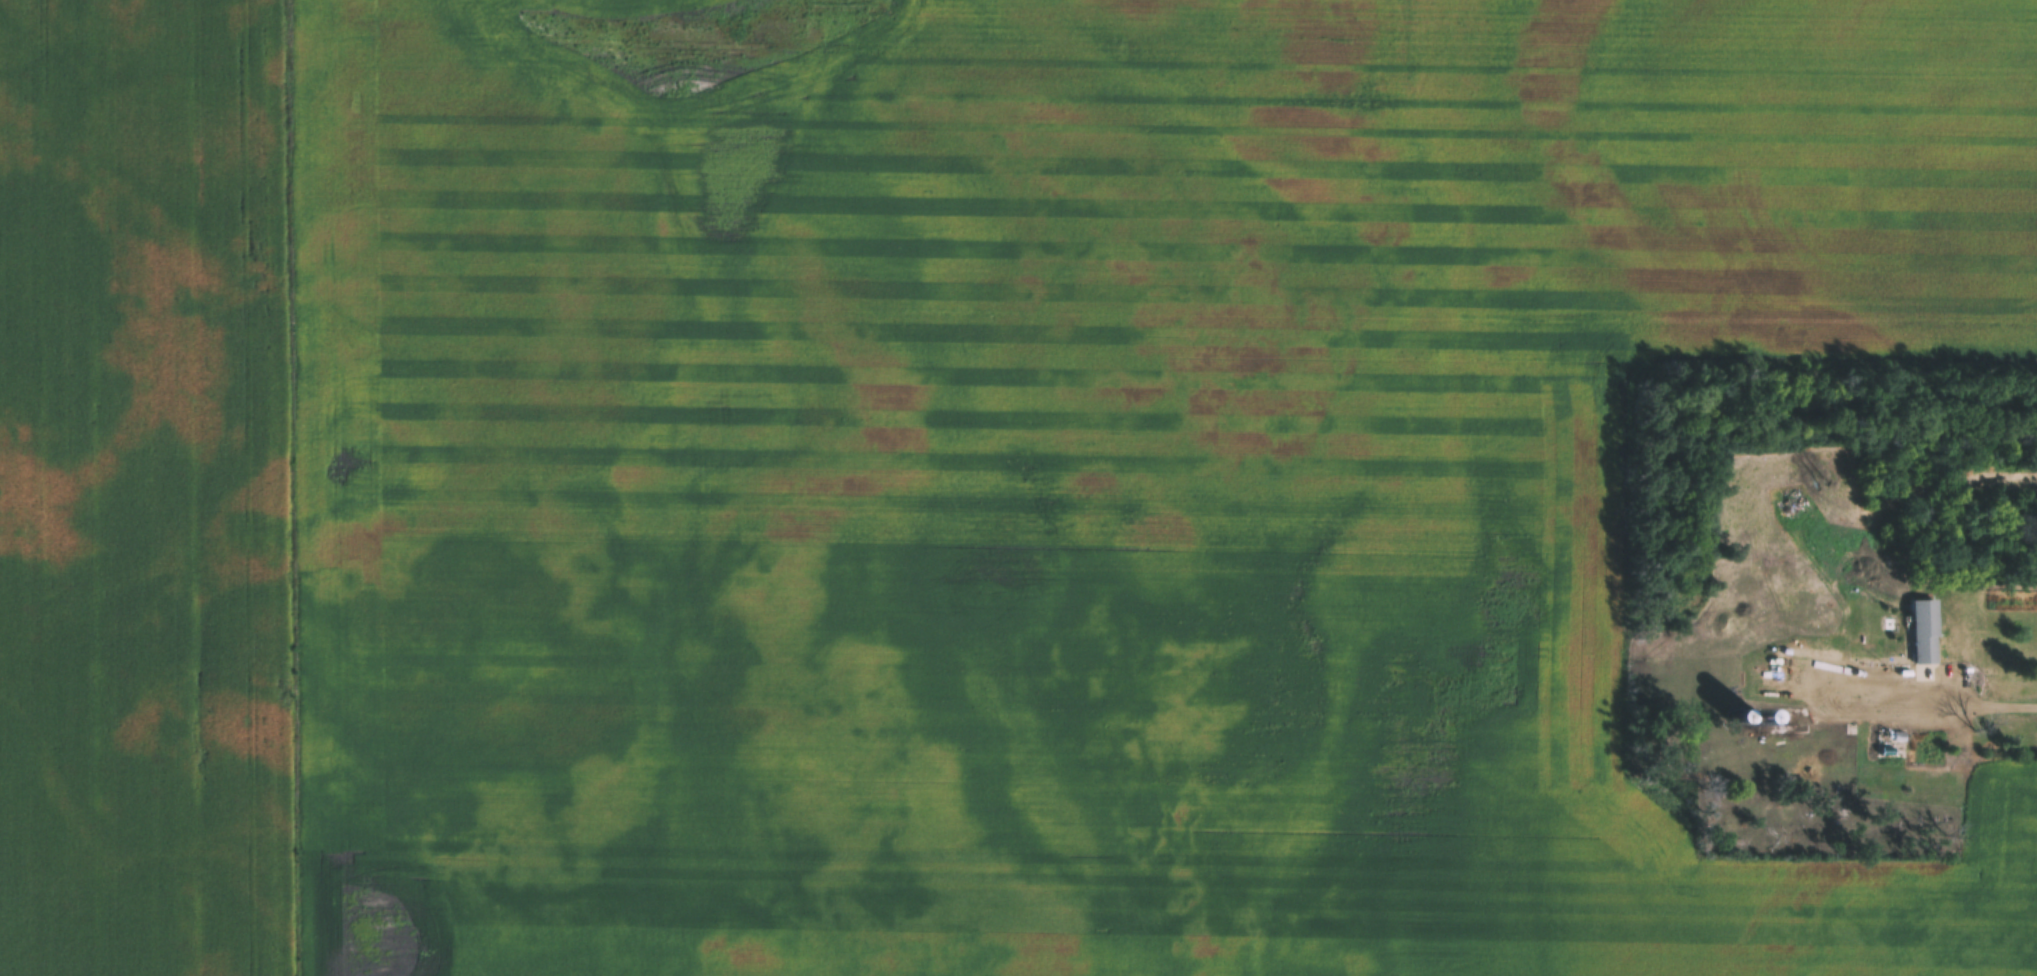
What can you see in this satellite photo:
crop: (1076, 474)
crop: (147, 489)
building: (1925, 630)
road: (1958, 707)

